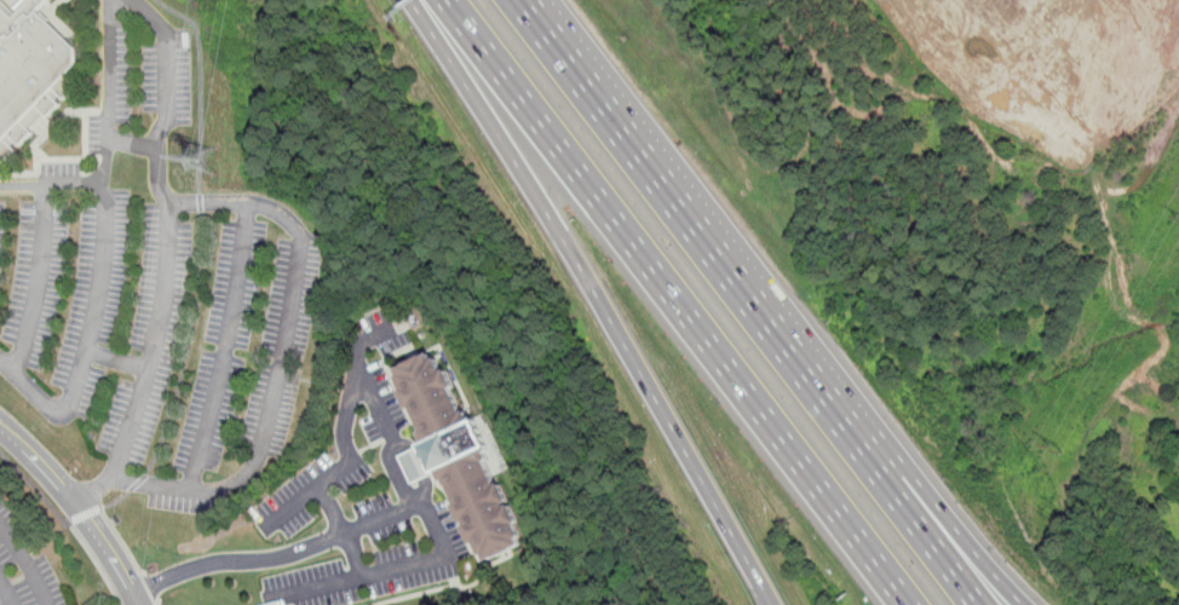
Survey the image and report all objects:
building: (21, 5)
building: (31, 73)
road: (200, 85)
road: (110, 91)
parking lot: (140, 92)
road: (133, 143)
power tower: (203, 168)
road: (22, 184)
road: (201, 202)
road: (707, 238)
road: (297, 266)
road: (102, 272)
road: (36, 278)
road: (599, 296)
road: (674, 302)
parking lot: (155, 330)
parking lot: (380, 334)
road: (155, 341)
road: (226, 345)
road: (189, 346)
road: (119, 359)
road: (315, 382)
road: (29, 386)
road: (392, 437)
parking lot: (347, 450)
power tower: (1056, 451)
building: (461, 455)
road: (340, 468)
road: (397, 476)
road: (136, 484)
road: (35, 485)
road: (113, 502)
road: (79, 505)
road: (453, 507)
road: (84, 515)
road: (341, 530)
road: (960, 538)
road: (123, 542)
road: (932, 543)
parking lot: (379, 555)
road: (237, 560)
road: (96, 561)
road: (27, 563)
parking lot: (23, 569)
road: (385, 571)
road: (154, 586)
road: (7, 590)
road: (156, 603)

